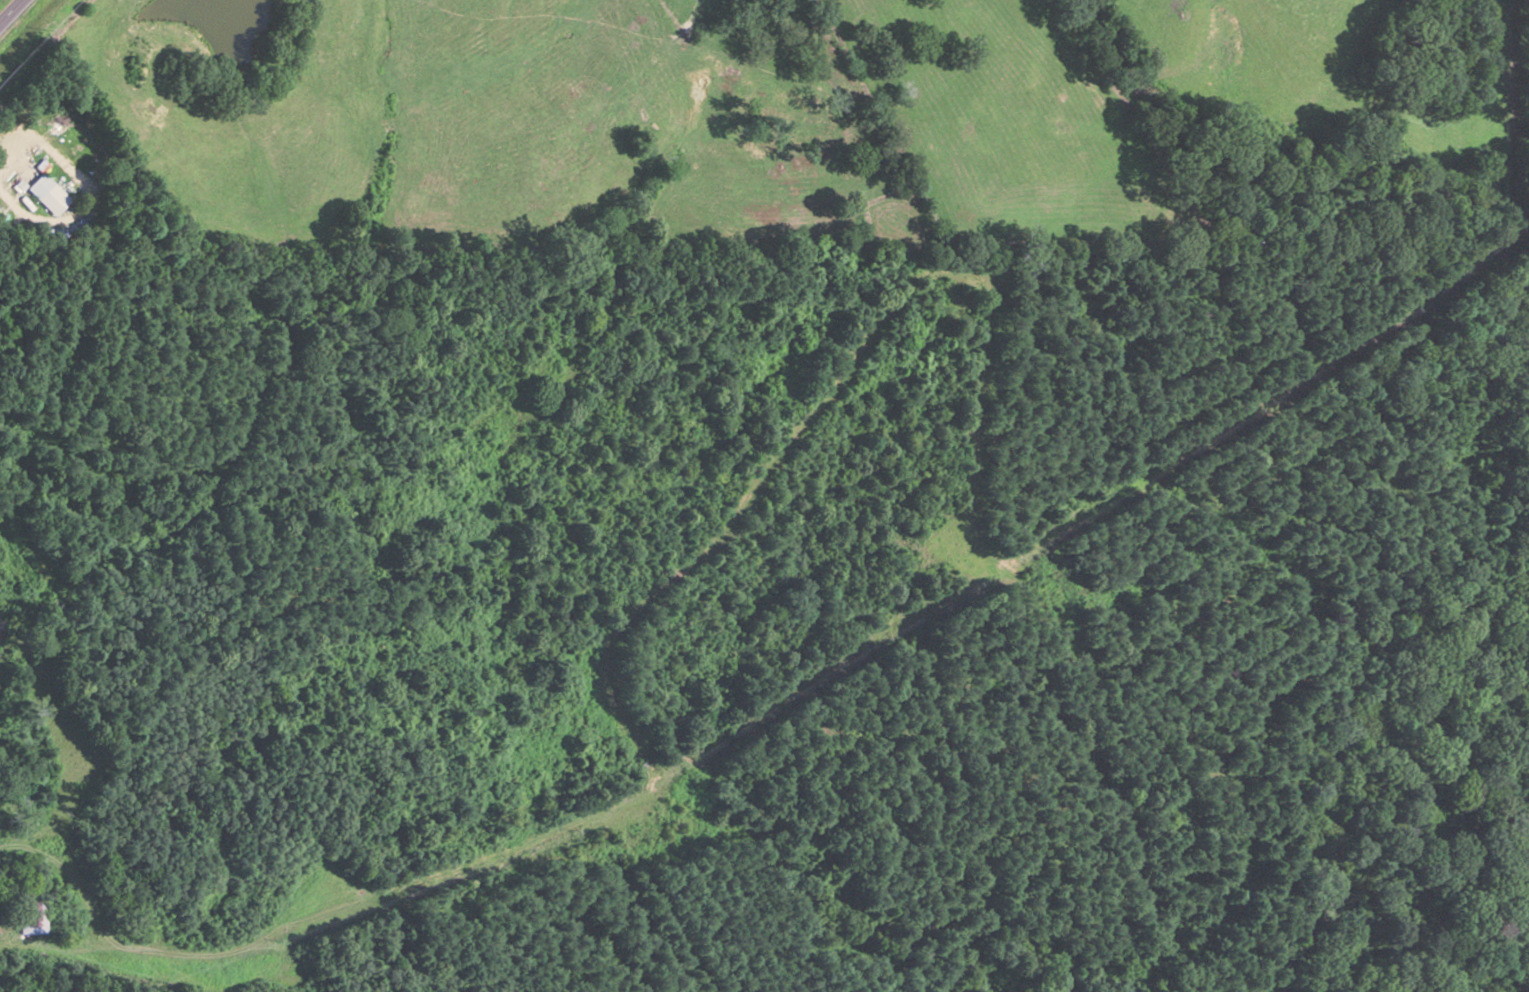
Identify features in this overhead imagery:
road: (14, 15)
building: (49, 193)
building: (32, 918)

